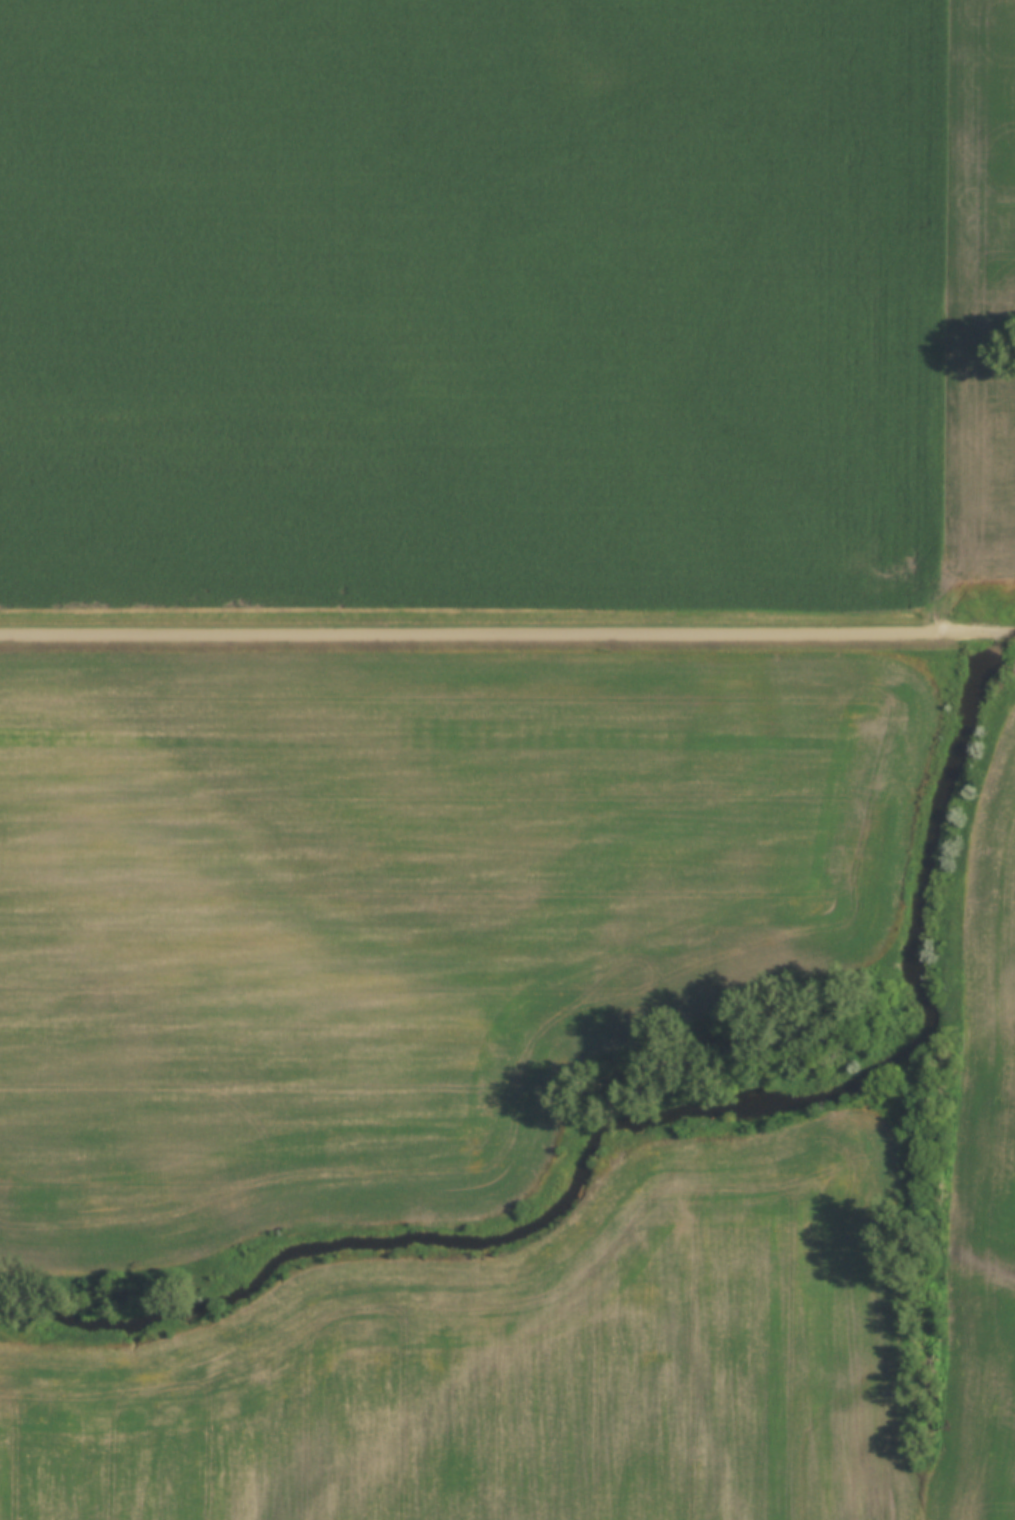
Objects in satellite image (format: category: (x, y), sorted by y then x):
road: (507, 635)

